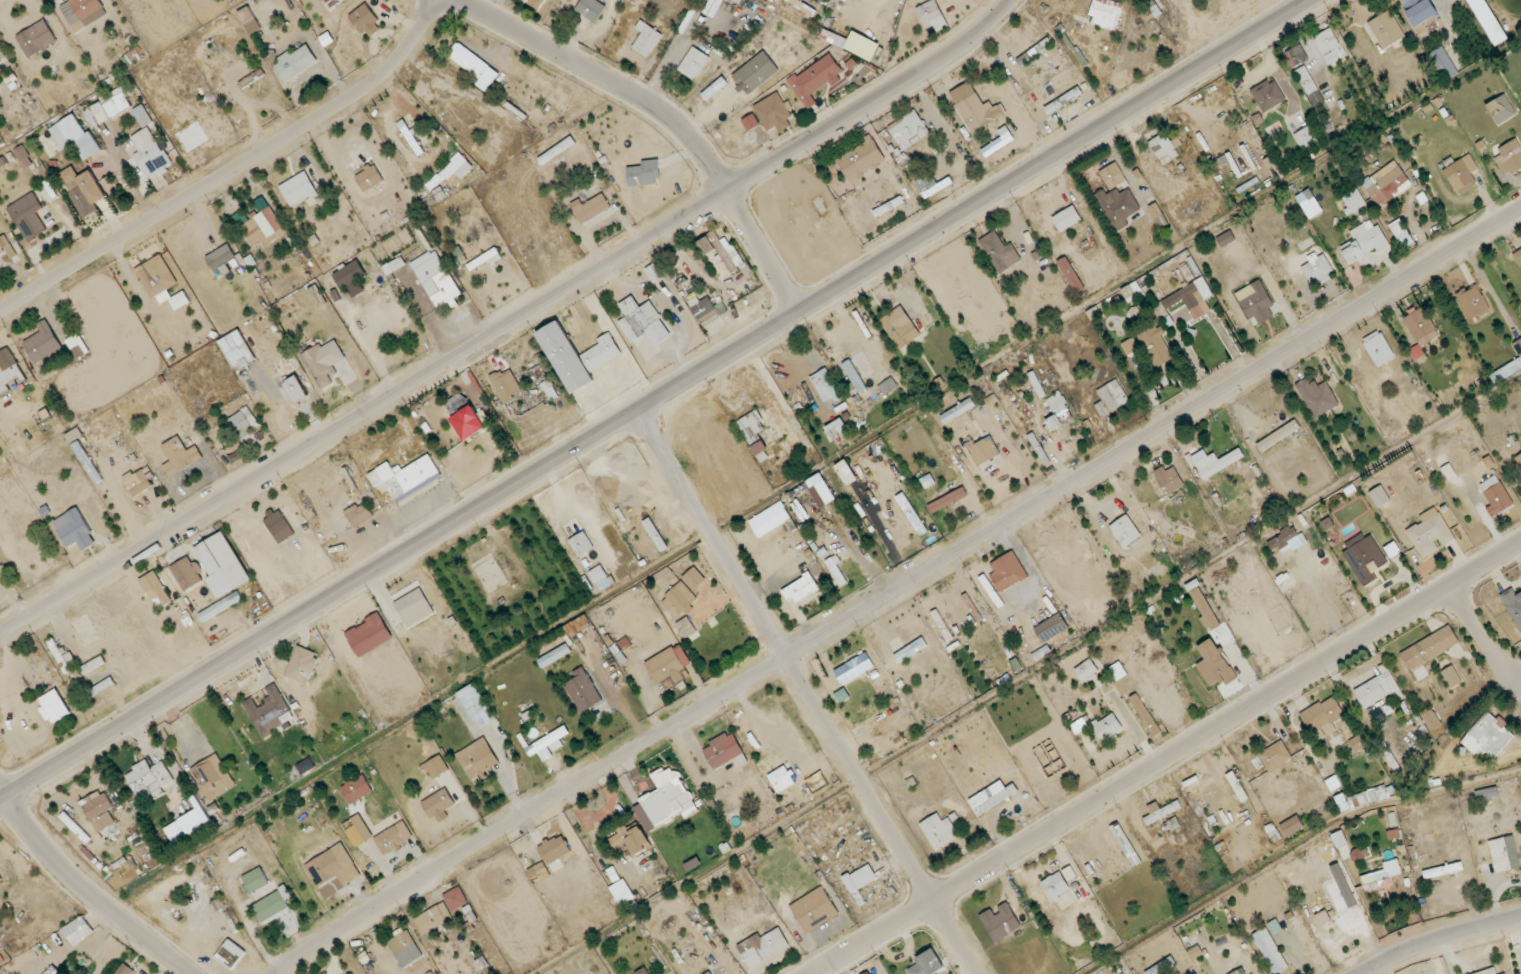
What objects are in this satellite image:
building: (536, 3)
building: (802, 7)
building: (88, 9)
building: (591, 9)
building: (1419, 10)
building: (1106, 13)
building: (932, 15)
building: (364, 18)
building: (1489, 21)
building: (1387, 29)
road: (593, 32)
road: (377, 36)
building: (36, 38)
building: (646, 39)
building: (862, 46)
building: (1330, 46)
building: (1293, 57)
building: (296, 62)
building: (693, 63)
building: (1442, 64)
building: (475, 67)
building: (756, 72)
building: (252, 78)
building: (815, 79)
road: (339, 86)
building: (1310, 86)
building: (714, 88)
road: (393, 92)
building: (1268, 95)
building: (226, 96)
building: (109, 106)
building: (1501, 109)
building: (774, 112)
building: (977, 112)
road: (664, 116)
building: (143, 117)
building: (750, 122)
building: (908, 130)
road: (261, 134)
road: (328, 134)
building: (62, 135)
building: (412, 138)
building: (1305, 138)
road: (109, 139)
building: (998, 143)
building: (1163, 149)
building: (151, 154)
building: (26, 155)
building: (1509, 157)
building: (860, 160)
building: (461, 165)
road: (232, 172)
building: (644, 174)
building: (1461, 174)
street lamp: (191, 176)
building: (1113, 176)
building: (369, 177)
road: (250, 181)
building: (1387, 183)
building: (931, 185)
building: (83, 187)
building: (299, 188)
road: (166, 193)
building: (1353, 201)
building: (1309, 203)
building: (1118, 206)
building: (590, 208)
building: (31, 216)
road: (199, 217)
building: (1066, 219)
road: (113, 221)
building: (263, 227)
building: (1401, 233)
building: (1226, 239)
building: (1364, 242)
building: (8, 246)
building: (2, 248)
road: (35, 250)
building: (721, 251)
building: (1000, 252)
building: (1517, 256)
building: (222, 257)
building: (1318, 268)
road: (22, 271)
building: (350, 274)
building: (157, 275)
building: (1071, 275)
building: (438, 280)
road: (136, 286)
building: (1191, 299)
building: (180, 300)
building: (1472, 301)
building: (1256, 302)
building: (704, 309)
building: (639, 319)
road: (510, 323)
building: (1421, 326)
building: (900, 327)
building: (43, 342)
building: (78, 346)
building: (1130, 346)
building: (1156, 348)
building: (1378, 348)
building: (237, 349)
building: (1416, 352)
building: (577, 356)
building: (320, 366)
building: (1508, 366)
building: (10, 370)
building: (855, 375)
building: (826, 385)
building: (888, 385)
building: (297, 388)
building: (1317, 396)
building: (1111, 398)
road: (659, 401)
building: (535, 406)
building: (957, 411)
building: (242, 422)
building: (468, 422)
building: (1054, 423)
building: (751, 425)
road: (7, 428)
building: (837, 429)
building: (74, 435)
building: (1278, 435)
building: (983, 451)
building: (179, 453)
building: (1519, 459)
building: (1217, 463)
road: (811, 472)
building: (846, 473)
building: (405, 475)
building: (1168, 478)
building: (138, 481)
building: (823, 493)
building: (1495, 495)
building: (1379, 496)
building: (948, 500)
building: (359, 513)
building: (912, 513)
building: (75, 529)
building: (1125, 531)
building: (1429, 533)
road: (711, 535)
building: (1286, 539)
building: (582, 543)
building: (29, 549)
building: (1392, 549)
building: (1365, 557)
building: (223, 564)
building: (1007, 572)
building: (187, 573)
building: (598, 574)
building: (694, 578)
building: (156, 586)
building: (802, 588)
road: (896, 589)
building: (990, 592)
building: (681, 598)
building: (1513, 606)
building: (415, 607)
building: (1203, 609)
building: (686, 626)
building: (1050, 628)
building: (370, 634)
road: (1479, 637)
building: (1429, 648)
building: (1213, 664)
building: (303, 665)
building: (668, 668)
building: (854, 668)
building: (1085, 670)
building: (1119, 670)
road: (1028, 674)
building: (1451, 676)
building: (890, 688)
building: (1378, 688)
building: (584, 690)
building: (476, 703)
building: (55, 705)
building: (269, 709)
building: (1325, 716)
building: (1430, 718)
building: (1106, 728)
building: (1489, 736)
building: (1356, 744)
building: (723, 751)
building: (1274, 756)
building: (478, 758)
road: (1169, 758)
building: (436, 767)
building: (213, 777)
building: (781, 778)
building: (149, 779)
building: (1236, 787)
building: (357, 788)
building: (1486, 794)
building: (993, 796)
building: (1371, 796)
building: (666, 800)
building: (439, 802)
building: (99, 810)
building: (1161, 811)
road: (882, 814)
building: (1292, 825)
building: (359, 829)
building: (939, 830)
building: (393, 838)
building: (617, 840)
building: (639, 840)
building: (562, 841)
road: (1293, 848)
building: (1505, 854)
building: (330, 864)
building: (1382, 876)
building: (0, 879)
building: (255, 880)
building: (1056, 885)
building: (854, 889)
road: (88, 892)
building: (456, 898)
building: (271, 905)
building: (815, 909)
building: (433, 918)
building: (1000, 921)
building: (78, 930)
road: (1435, 938)
building: (763, 946)
building: (406, 948)
building: (1271, 950)
building: (927, 964)
building: (125, 969)
building: (709, 972)
building: (1238, 972)
building: (877, 973)

